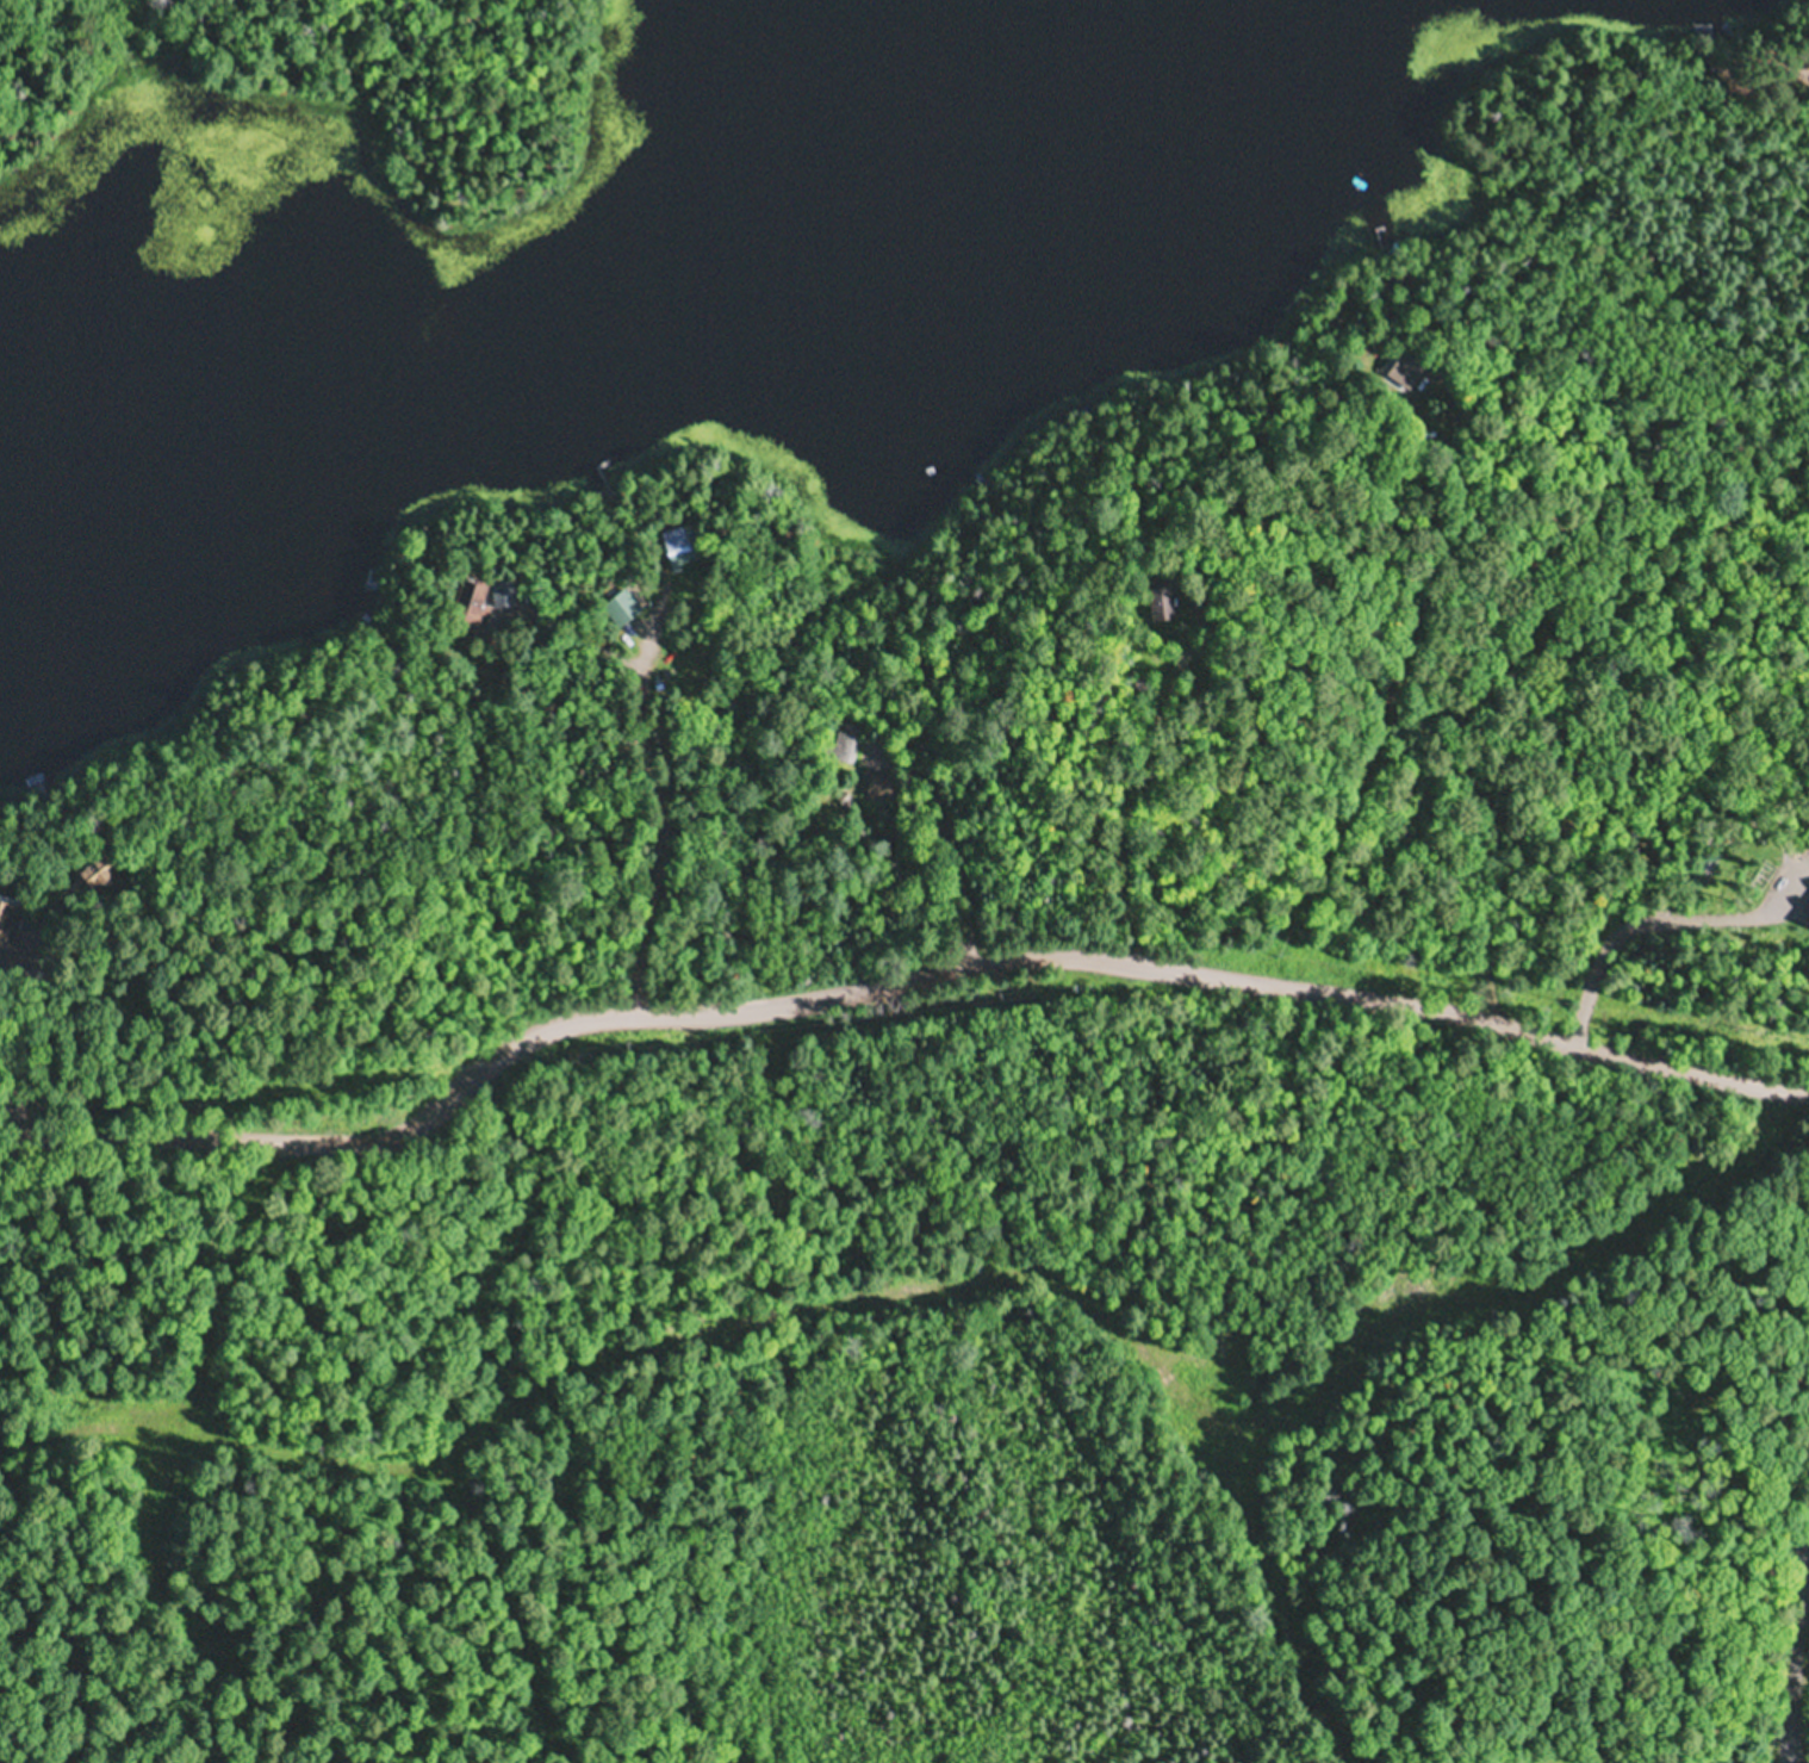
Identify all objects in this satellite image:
road: (1759, 110)
road: (1481, 732)
road: (645, 801)
road: (894, 971)
road: (187, 1342)
road: (1556, 1472)
road: (1789, 1645)

